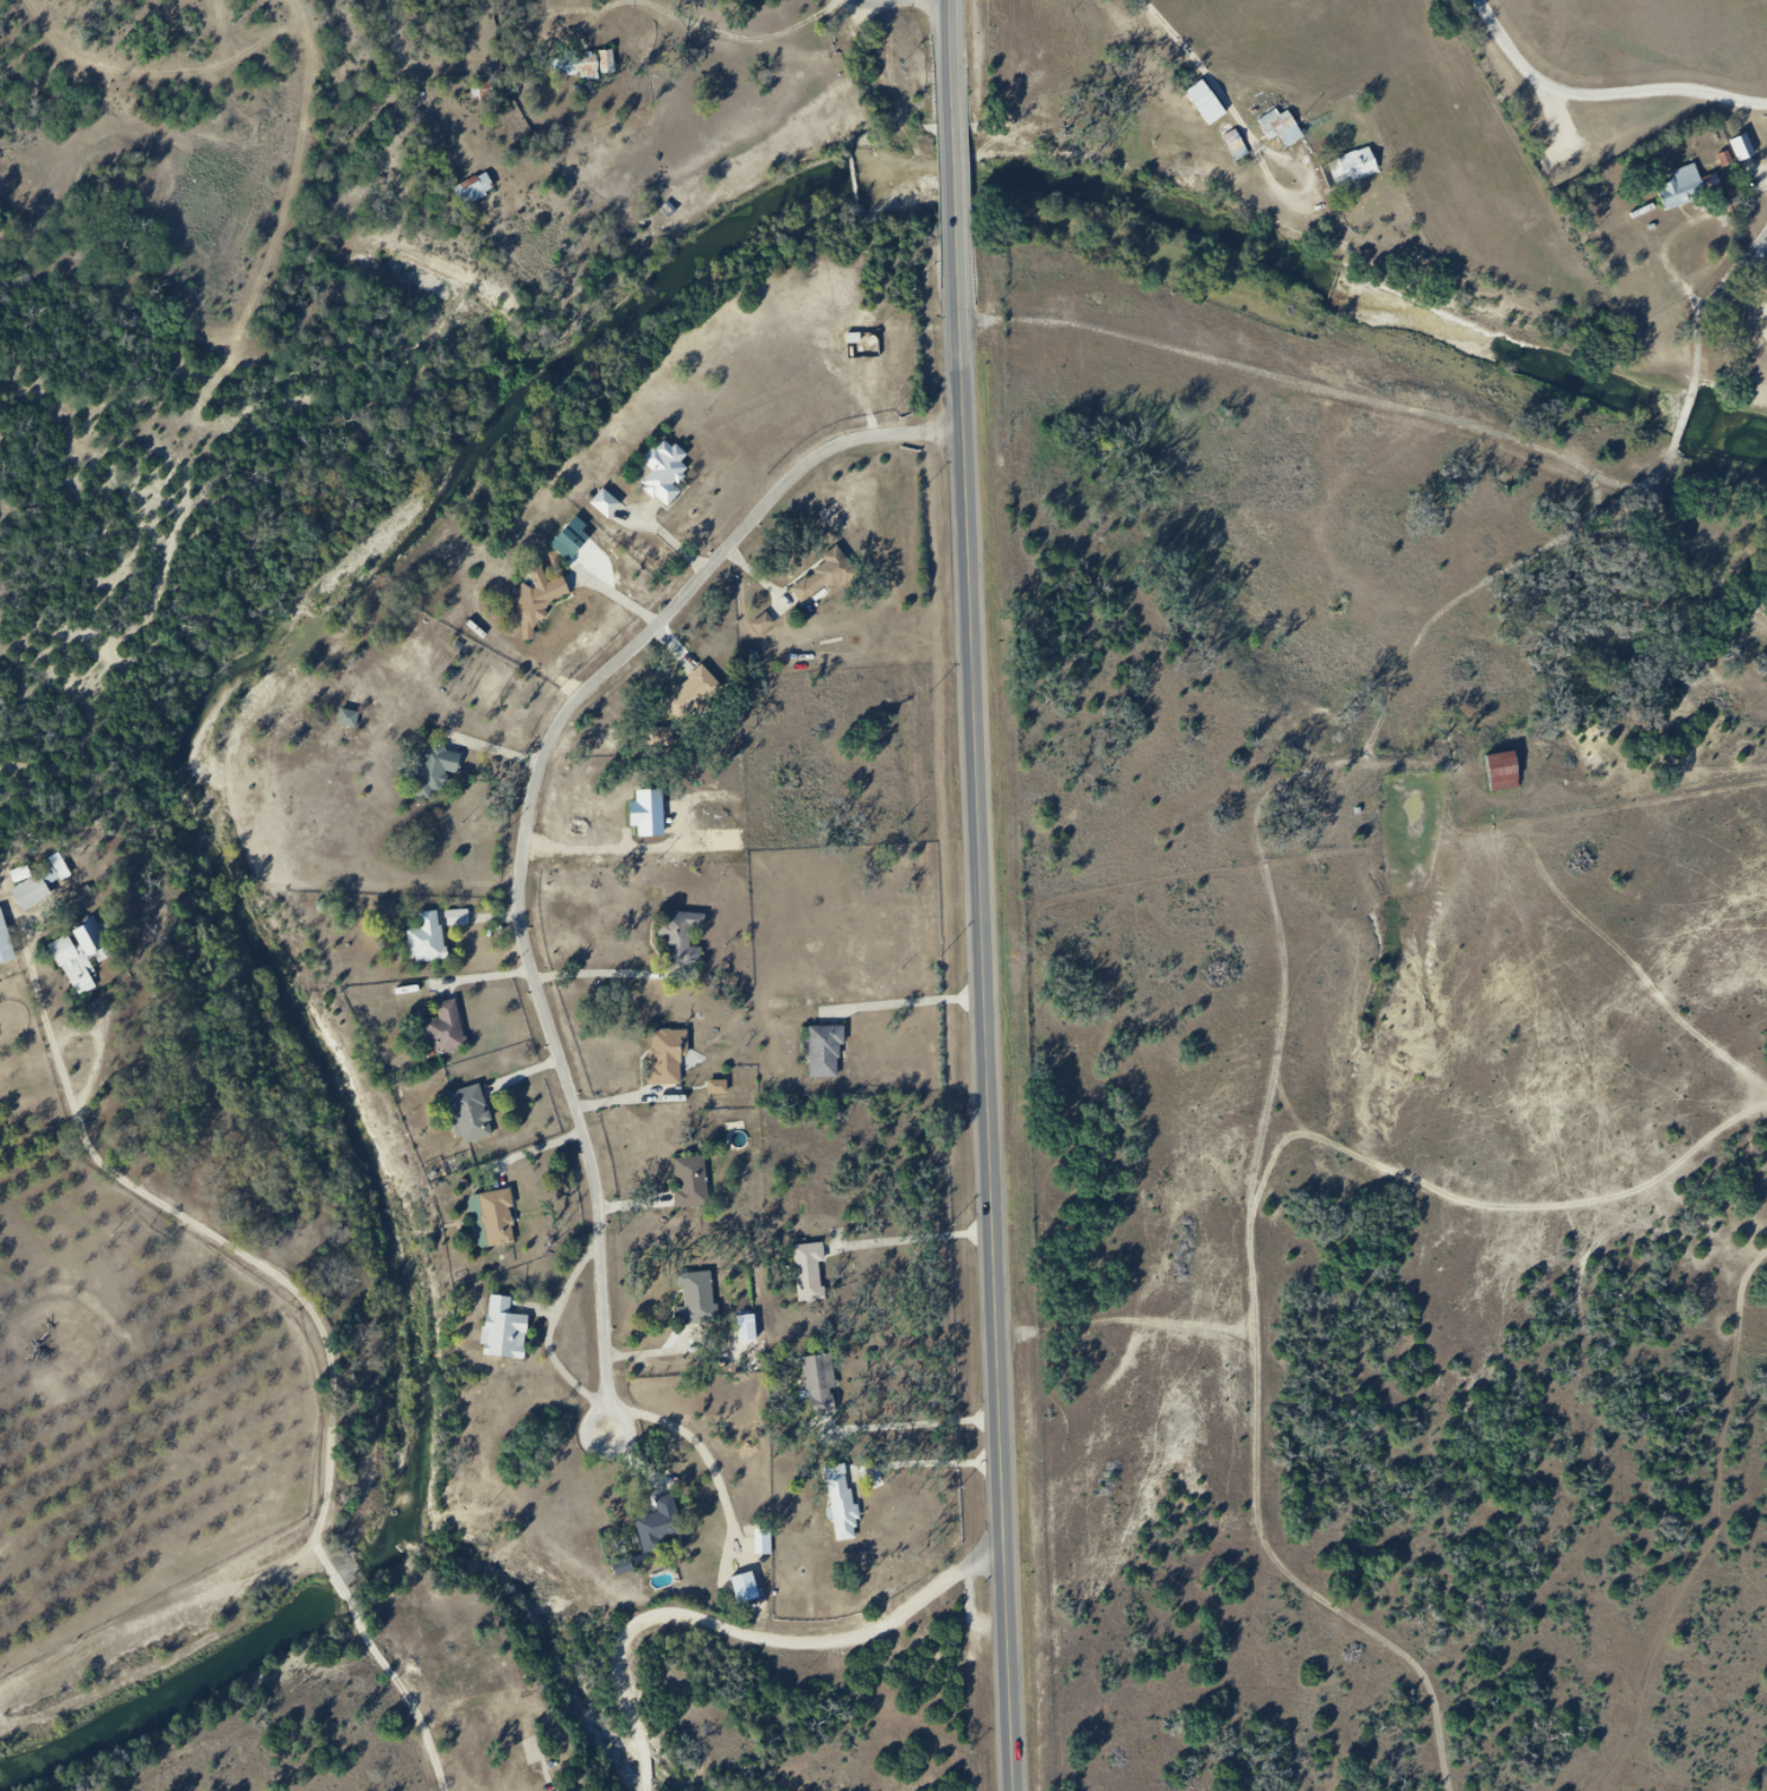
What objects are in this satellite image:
building: (580, 63)
road: (956, 63)
road: (1210, 71)
road: (1601, 95)
building: (1288, 130)
building: (1242, 147)
building: (1742, 147)
building: (1750, 153)
building: (1364, 170)
road: (957, 185)
building: (474, 189)
road: (1315, 189)
building: (1692, 192)
road: (1707, 302)
road: (1329, 389)
road: (1682, 421)
building: (671, 476)
building: (613, 506)
building: (833, 579)
building: (546, 601)
building: (707, 694)
building: (347, 718)
building: (445, 770)
building: (1506, 771)
road: (532, 803)
building: (31, 887)
building: (465, 919)
building: (5, 939)
building: (690, 939)
building: (434, 941)
building: (78, 955)
road: (910, 1002)
road: (988, 1018)
building: (453, 1028)
road: (1284, 1030)
building: (831, 1053)
building: (674, 1059)
building: (725, 1089)
building: (476, 1114)
building: (696, 1183)
building: (504, 1220)
road: (918, 1237)
building: (816, 1270)
building: (703, 1301)
road: (556, 1332)
building: (511, 1334)
building: (828, 1384)
road: (918, 1422)
road: (594, 1441)
road: (931, 1461)
building: (850, 1510)
building: (666, 1527)
building: (751, 1588)
road: (749, 1625)

